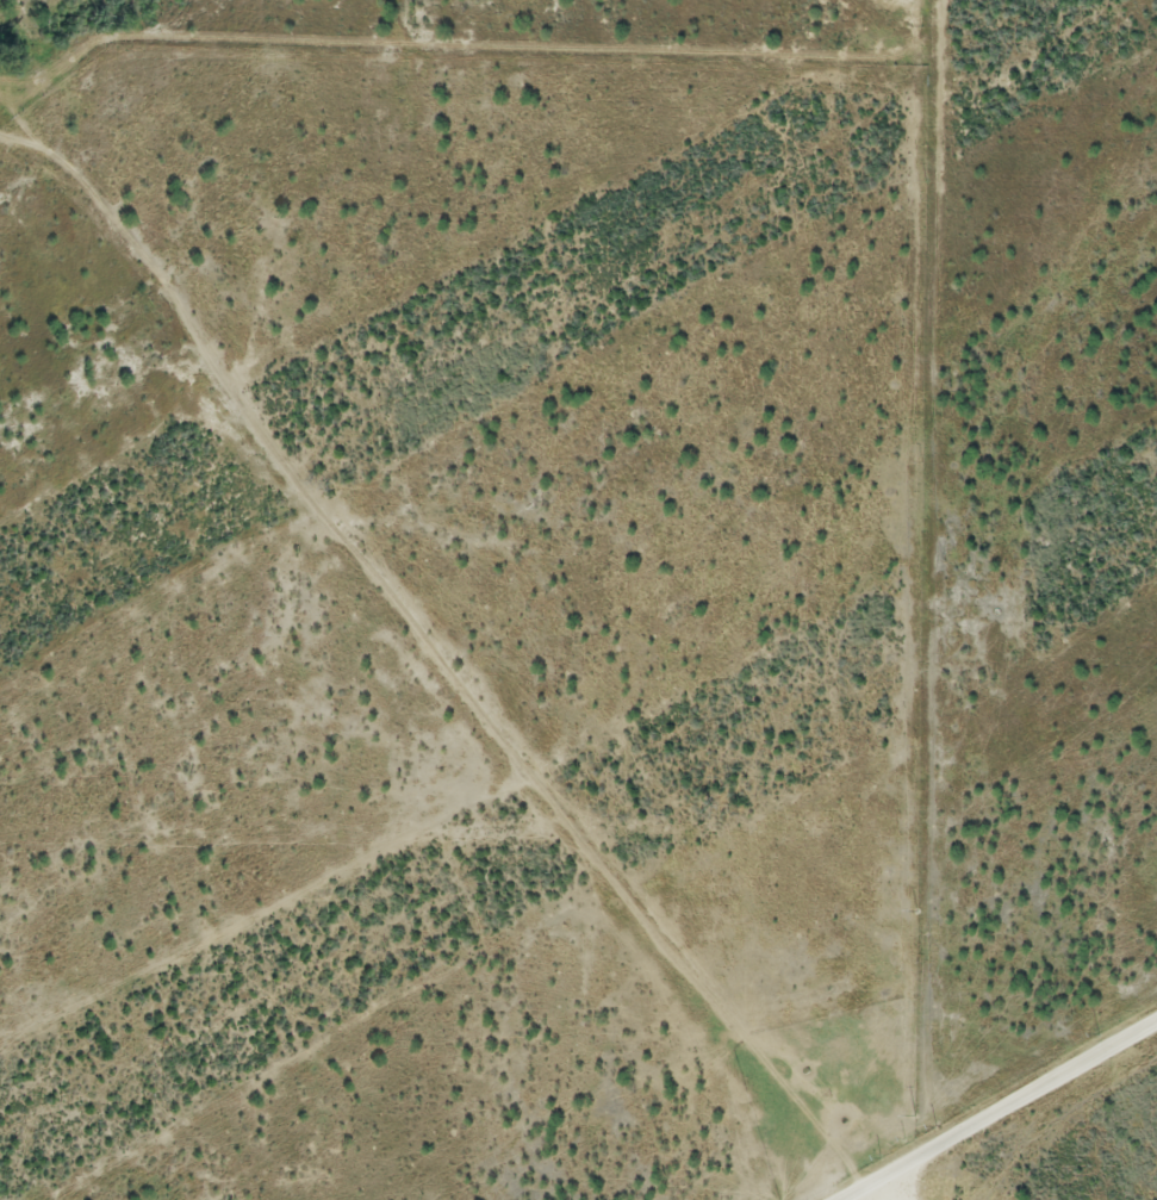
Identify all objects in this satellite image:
road: (775, 1069)
road: (983, 1107)

